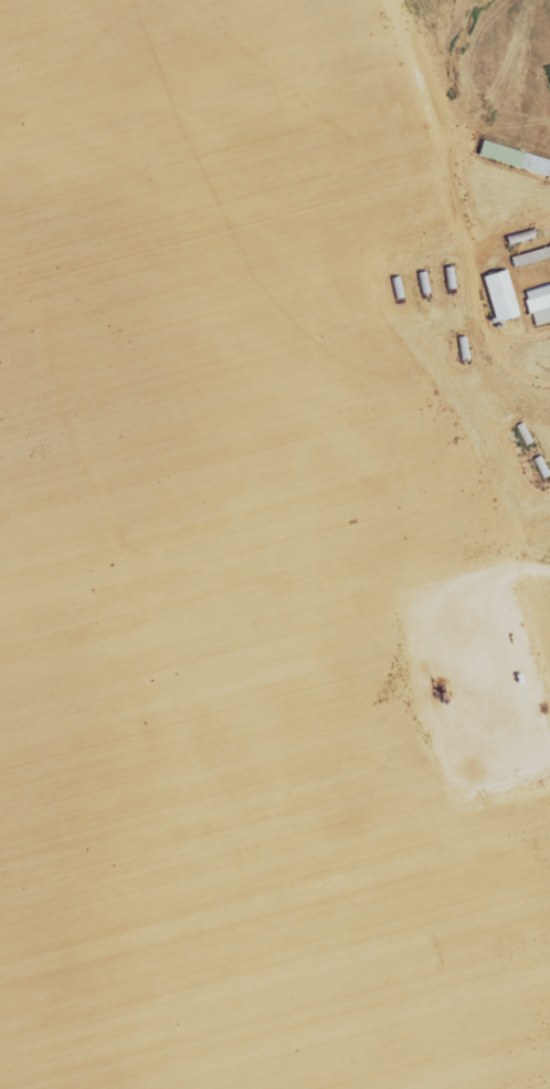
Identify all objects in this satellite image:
building: (514, 158)
building: (531, 256)
building: (501, 295)
building: (539, 303)

